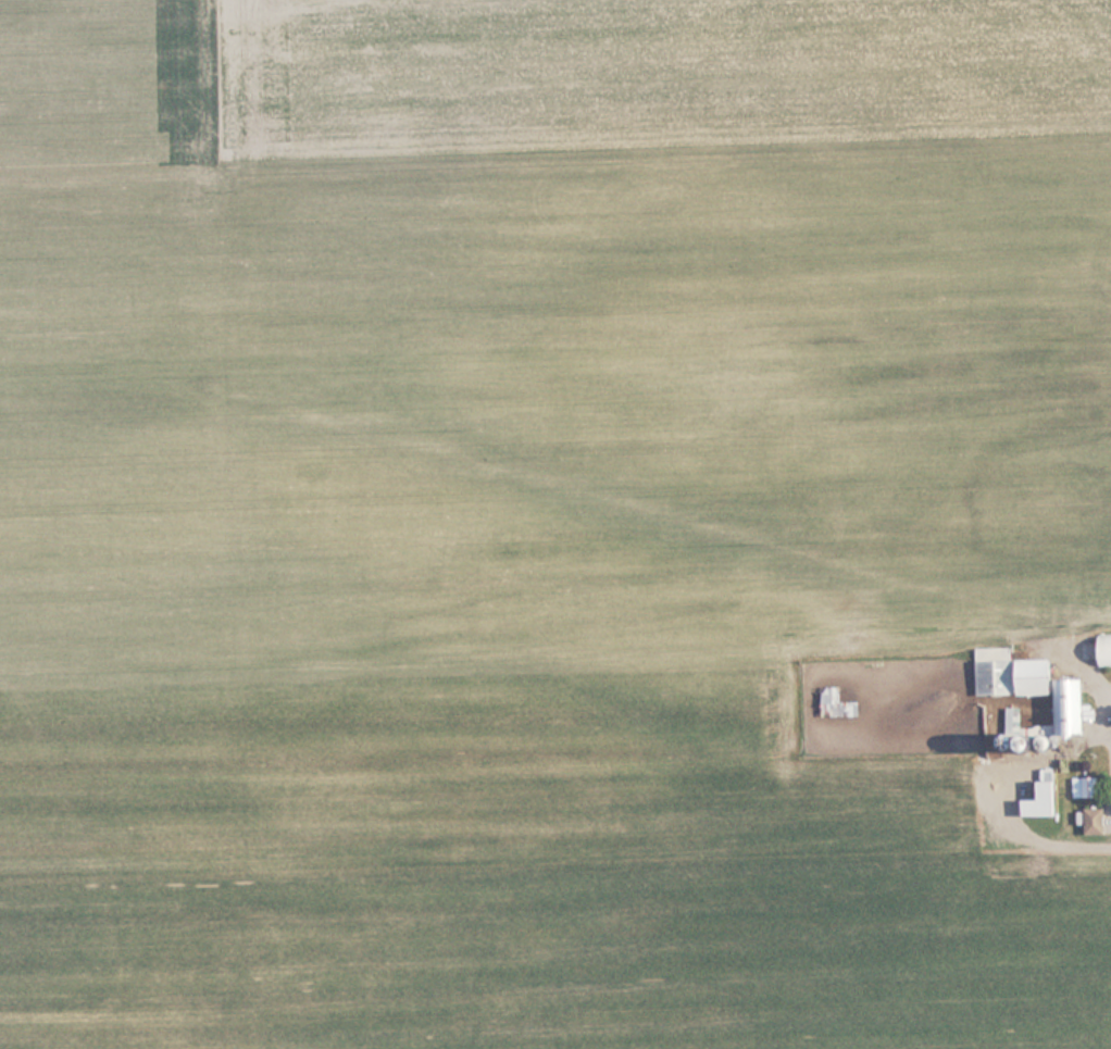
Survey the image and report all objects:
building: (1104, 649)
building: (1032, 683)
building: (840, 701)
building: (1086, 786)
building: (1045, 800)
building: (1096, 821)

